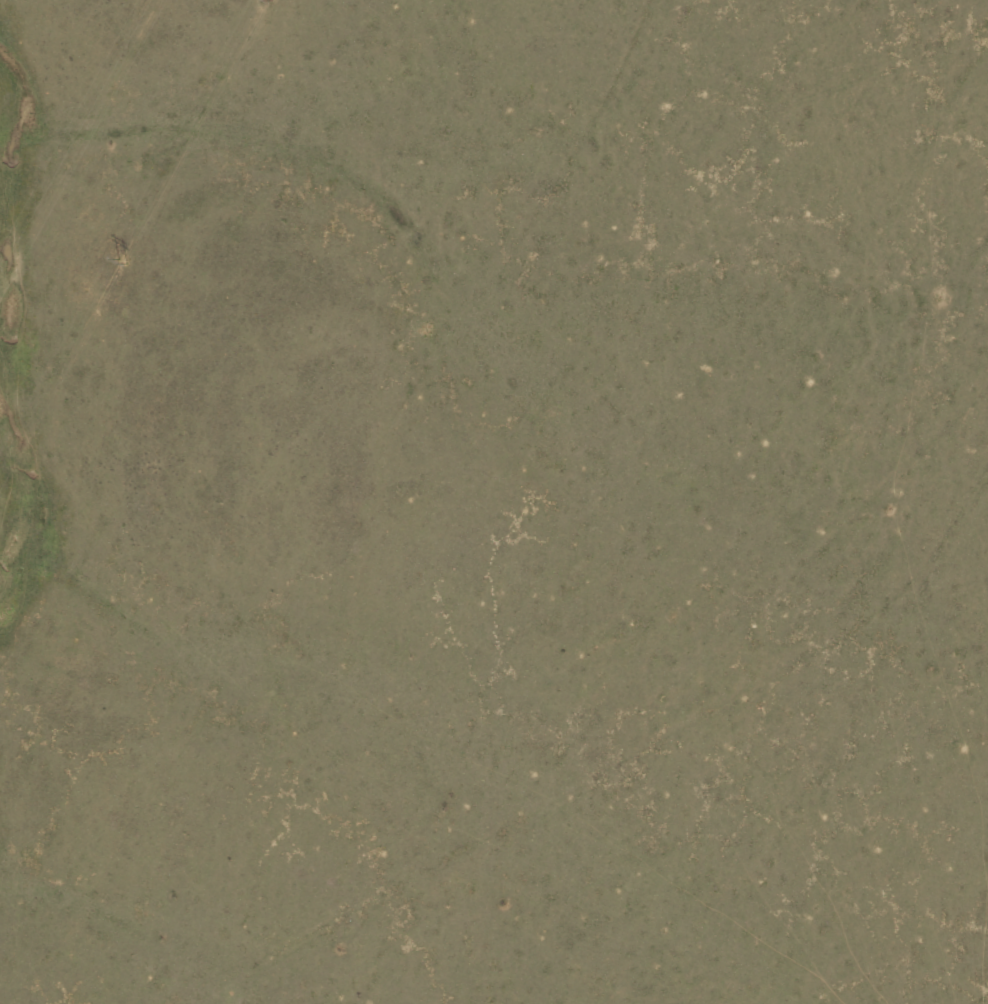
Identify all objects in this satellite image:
power tower: (266, 0)
power tower: (122, 261)

